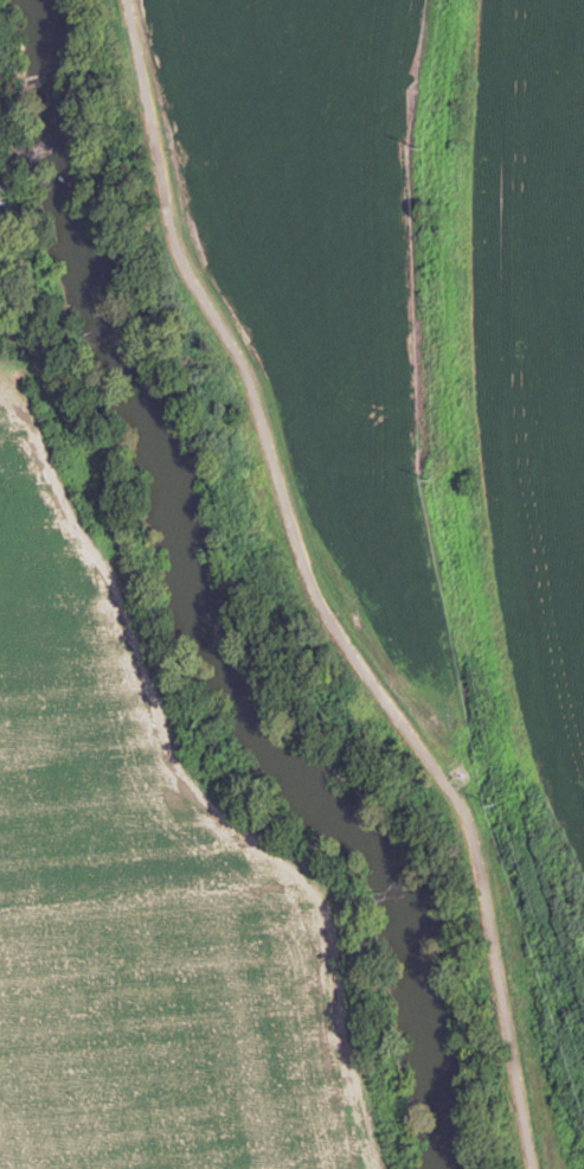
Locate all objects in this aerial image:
building: (17, 5)
power tower: (417, 147)
power tower: (428, 477)
railway: (462, 515)
power tower: (494, 804)
road: (133, 912)

